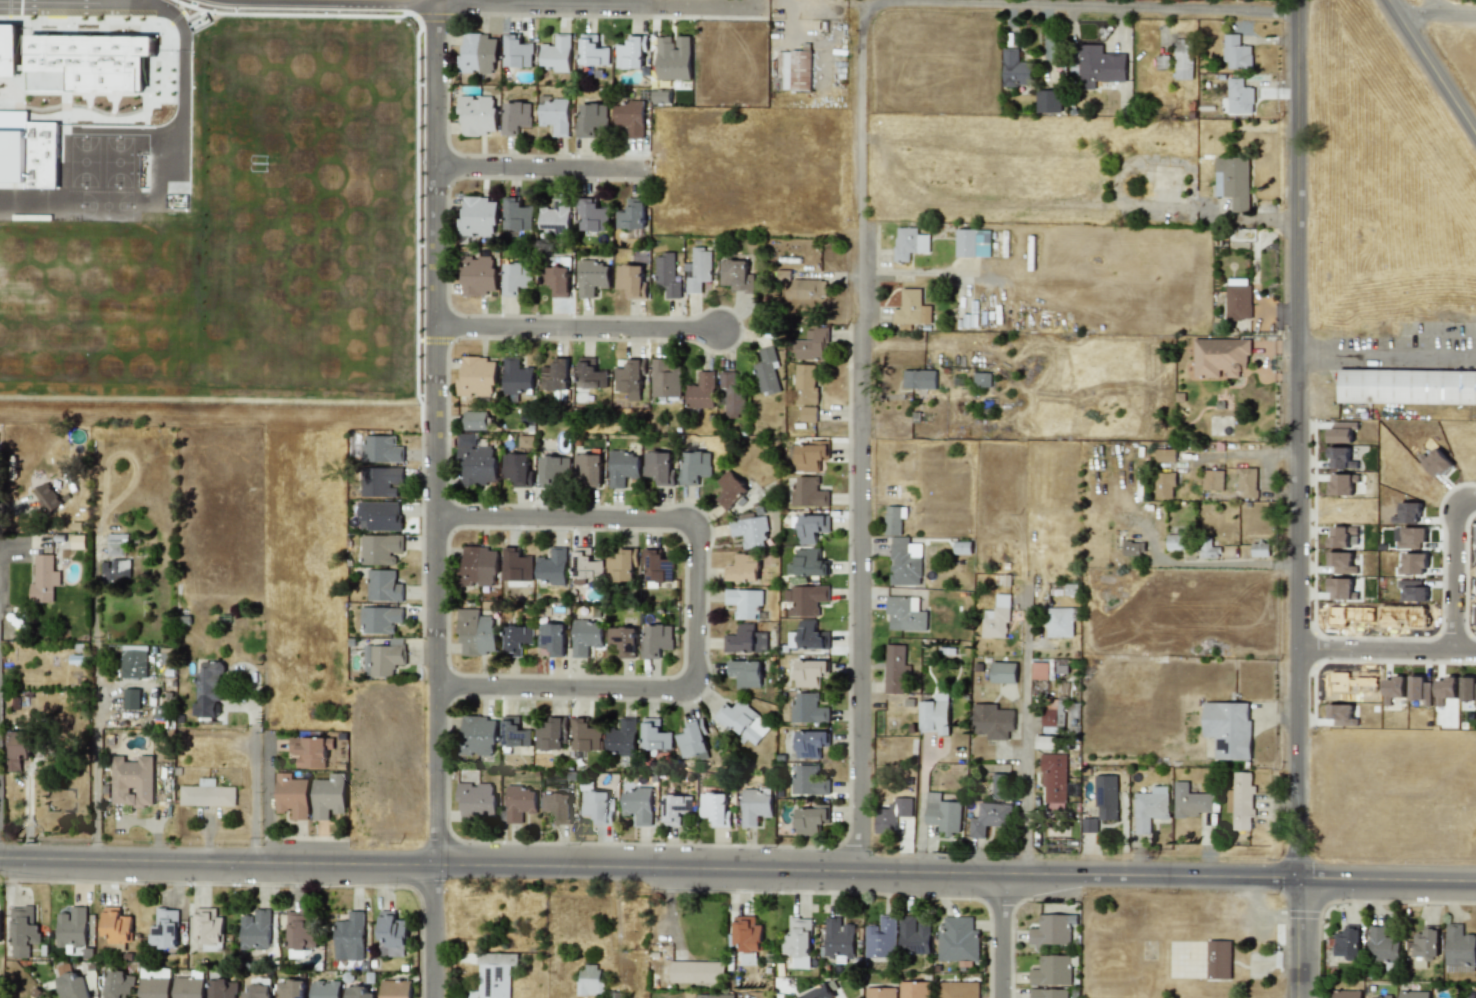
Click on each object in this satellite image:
road: (129, 2)
road: (327, 2)
road: (70, 4)
road: (600, 5)
road: (1079, 7)
road: (1440, 15)
road: (814, 35)
building: (9, 50)
building: (518, 51)
building: (592, 51)
building: (1235, 51)
building: (631, 52)
building: (478, 53)
building: (556, 53)
building: (673, 57)
building: (1183, 59)
building: (93, 60)
building: (1161, 61)
road: (1435, 62)
building: (1098, 67)
building: (1015, 68)
building: (794, 70)
building: (34, 82)
building: (661, 96)
building: (1240, 96)
building: (1048, 101)
building: (478, 114)
building: (555, 114)
building: (516, 117)
building: (629, 117)
building: (590, 118)
building: (27, 152)
road: (542, 167)
building: (1233, 181)
building: (517, 215)
building: (591, 215)
building: (479, 216)
building: (555, 216)
building: (630, 216)
building: (907, 242)
building: (973, 242)
building: (698, 267)
building: (666, 274)
building: (736, 274)
building: (480, 275)
building: (592, 277)
building: (517, 278)
building: (556, 278)
building: (632, 280)
building: (806, 288)
building: (1238, 299)
building: (911, 307)
road: (576, 328)
building: (812, 344)
building: (1221, 357)
road: (1385, 357)
building: (768, 372)
building: (591, 373)
building: (477, 376)
building: (518, 376)
building: (557, 377)
building: (631, 379)
building: (919, 379)
building: (982, 379)
building: (665, 380)
building: (806, 383)
building: (1407, 386)
building: (702, 391)
building: (732, 394)
building: (808, 413)
building: (478, 420)
building: (1340, 433)
road: (863, 439)
building: (380, 449)
building: (810, 454)
building: (1165, 456)
building: (1340, 458)
building: (477, 460)
building: (1436, 463)
building: (623, 467)
building: (659, 467)
building: (693, 467)
building: (518, 468)
building: (553, 469)
building: (588, 469)
building: (1212, 479)
building: (382, 481)
building: (1247, 482)
building: (1165, 484)
building: (1341, 484)
building: (730, 490)
building: (808, 492)
building: (47, 497)
road: (1294, 499)
road: (434, 501)
building: (1409, 513)
building: (381, 514)
building: (748, 527)
building: (811, 527)
building: (1340, 536)
building: (1411, 538)
building: (78, 541)
building: (1175, 542)
building: (116, 544)
building: (962, 547)
building: (1132, 548)
building: (1208, 548)
building: (1260, 548)
building: (381, 549)
building: (902, 549)
building: (1341, 562)
building: (808, 563)
building: (1413, 563)
building: (585, 564)
road: (1453, 564)
building: (517, 565)
building: (478, 566)
building: (622, 566)
building: (658, 566)
building: (552, 567)
building: (743, 568)
building: (115, 571)
building: (44, 579)
building: (383, 585)
building: (1341, 589)
building: (1412, 590)
building: (808, 599)
building: (744, 600)
road: (696, 604)
building: (904, 613)
building: (997, 617)
building: (379, 619)
building: (1062, 622)
building: (476, 632)
building: (584, 636)
building: (809, 636)
building: (552, 637)
building: (517, 639)
building: (656, 639)
building: (745, 639)
building: (623, 640)
road: (1384, 648)
building: (384, 658)
building: (134, 661)
building: (895, 668)
building: (1041, 670)
building: (745, 672)
building: (811, 672)
building: (1003, 672)
building: (209, 688)
building: (1393, 689)
building: (1419, 689)
building: (1445, 689)
building: (1468, 689)
building: (131, 698)
building: (808, 708)
building: (1340, 714)
building: (1054, 715)
building: (935, 717)
building: (739, 718)
building: (993, 721)
building: (1228, 729)
building: (515, 732)
building: (552, 734)
building: (478, 735)
building: (585, 735)
building: (654, 735)
building: (621, 737)
building: (692, 739)
road: (1024, 739)
building: (809, 742)
building: (1046, 742)
building: (17, 748)
building: (310, 749)
building: (1053, 778)
road: (95, 779)
building: (807, 779)
building: (132, 780)
building: (1001, 786)
building: (207, 794)
road: (254, 794)
building: (292, 795)
building: (329, 796)
building: (1105, 797)
building: (477, 801)
building: (1194, 801)
building: (1243, 801)
building: (519, 802)
building: (637, 804)
building: (598, 805)
building: (756, 805)
building: (557, 807)
road: (921, 807)
building: (1151, 807)
building: (675, 808)
building: (716, 808)
building: (891, 814)
building: (942, 814)
building: (811, 818)
building: (989, 818)
building: (1089, 825)
road: (737, 871)
building: (0, 913)
building: (71, 927)
building: (117, 927)
building: (209, 928)
building: (165, 930)
building: (256, 930)
building: (23, 931)
building: (1051, 931)
building: (299, 933)
building: (393, 934)
building: (914, 935)
building: (349, 936)
building: (748, 937)
building: (881, 937)
road: (1000, 937)
building: (839, 939)
building: (958, 940)
building: (799, 942)
building: (1347, 942)
building: (1425, 946)
building: (1383, 947)
building: (1459, 948)
building: (1218, 959)
building: (1052, 970)
building: (697, 972)
building: (494, 974)
building: (589, 979)
building: (119, 983)
building: (155, 984)
building: (73, 985)
building: (190, 985)
building: (223, 988)
building: (259, 988)
building: (291, 988)
building: (325, 988)
building: (395, 988)
building: (915, 989)
building: (958, 989)
building: (360, 991)
building: (818, 992)
building: (881, 992)
building: (1049, 993)
building: (1345, 993)
building: (1413, 994)
building: (709, 995)
building: (1471, 997)

